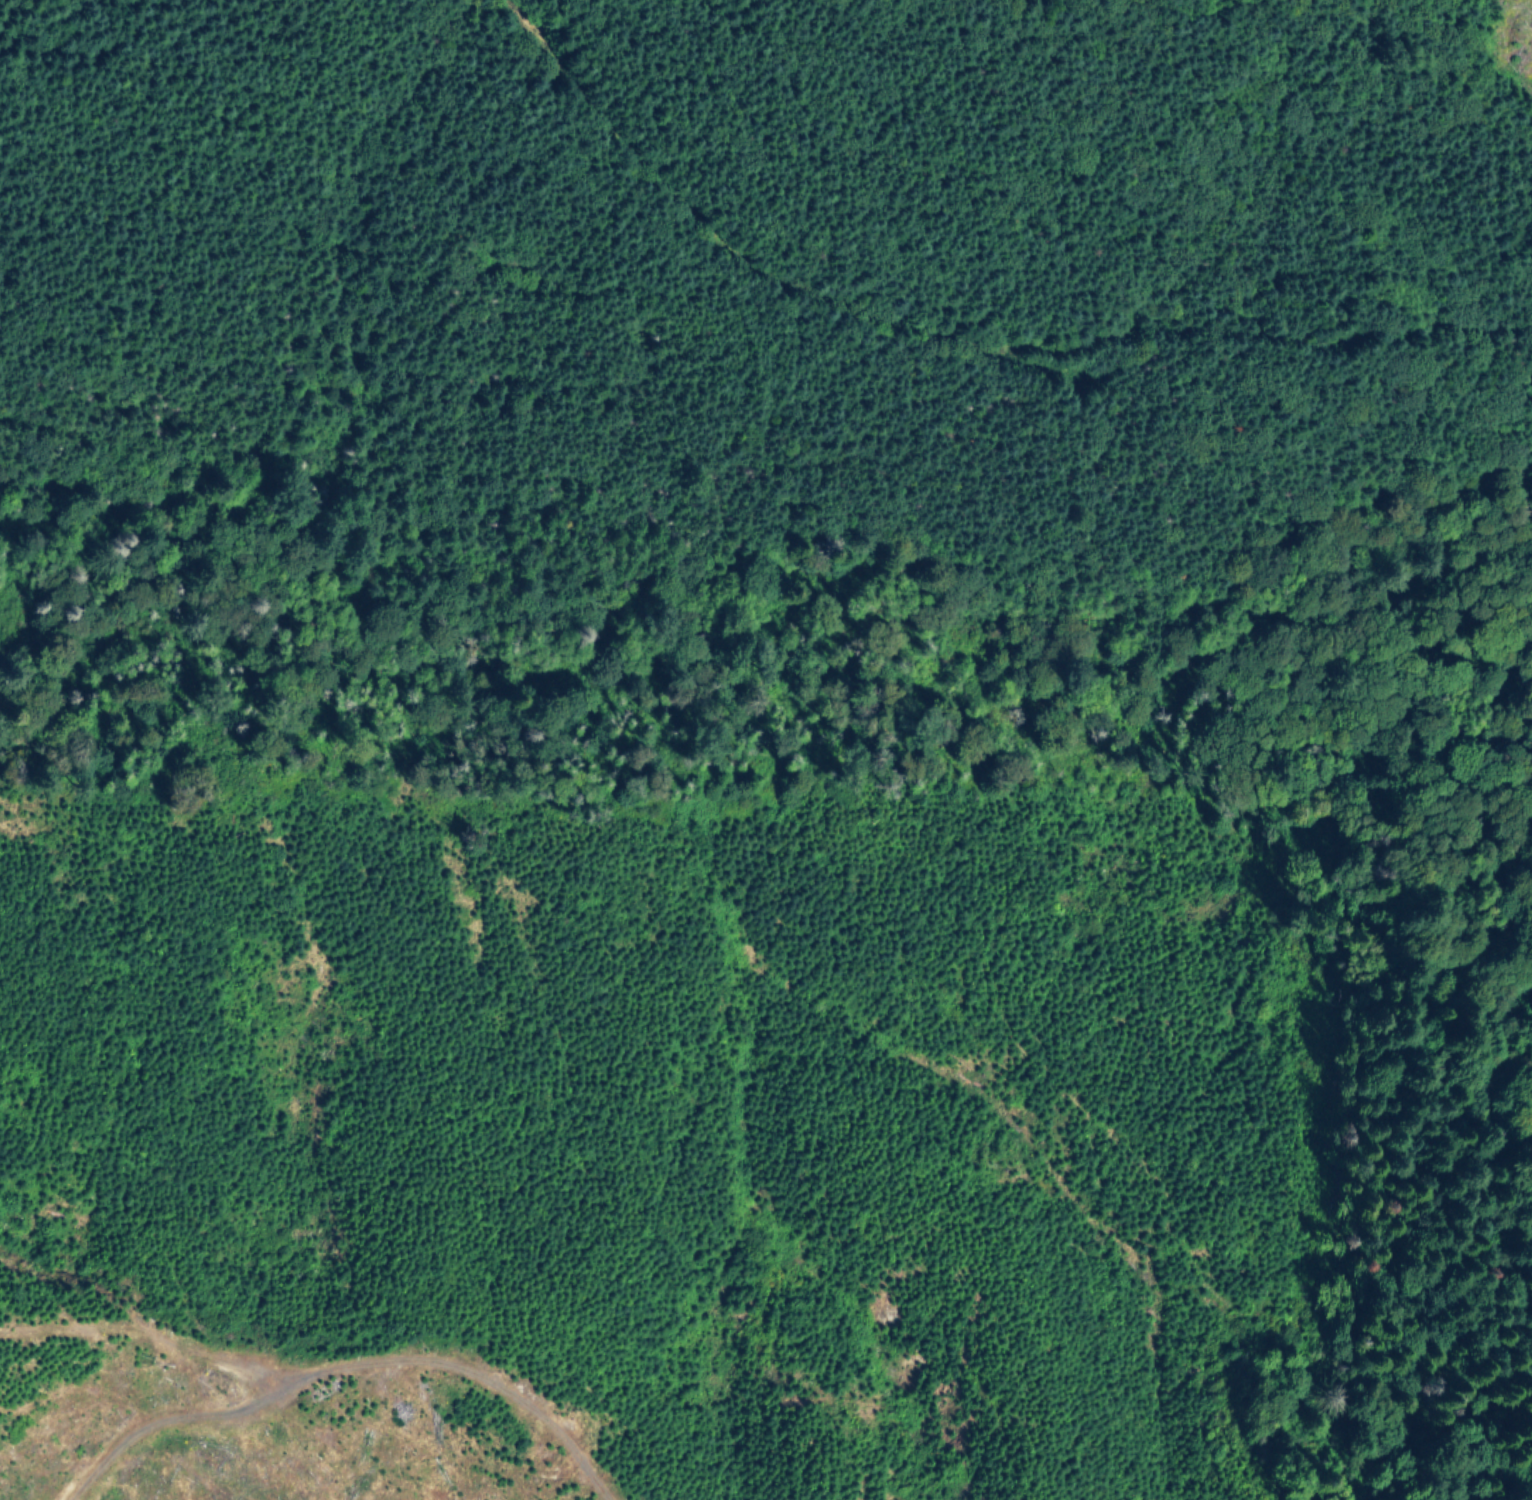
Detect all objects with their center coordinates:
road: (741, 264)
road: (1294, 344)
road: (132, 1335)
road: (353, 1365)

